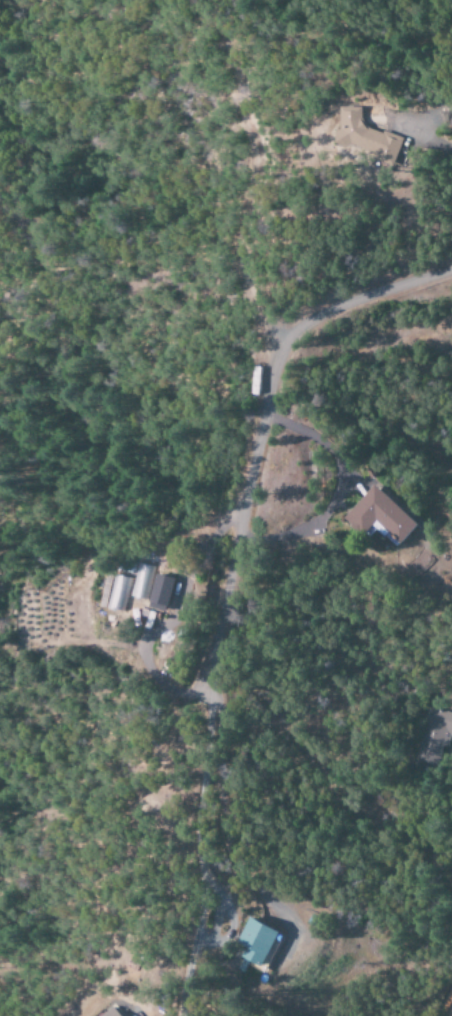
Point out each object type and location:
building: (356, 139)
road: (259, 427)
building: (379, 515)
building: (137, 581)
building: (156, 591)
building: (114, 593)
building: (433, 735)
road: (224, 823)
road: (205, 857)
building: (254, 942)
building: (109, 1012)

